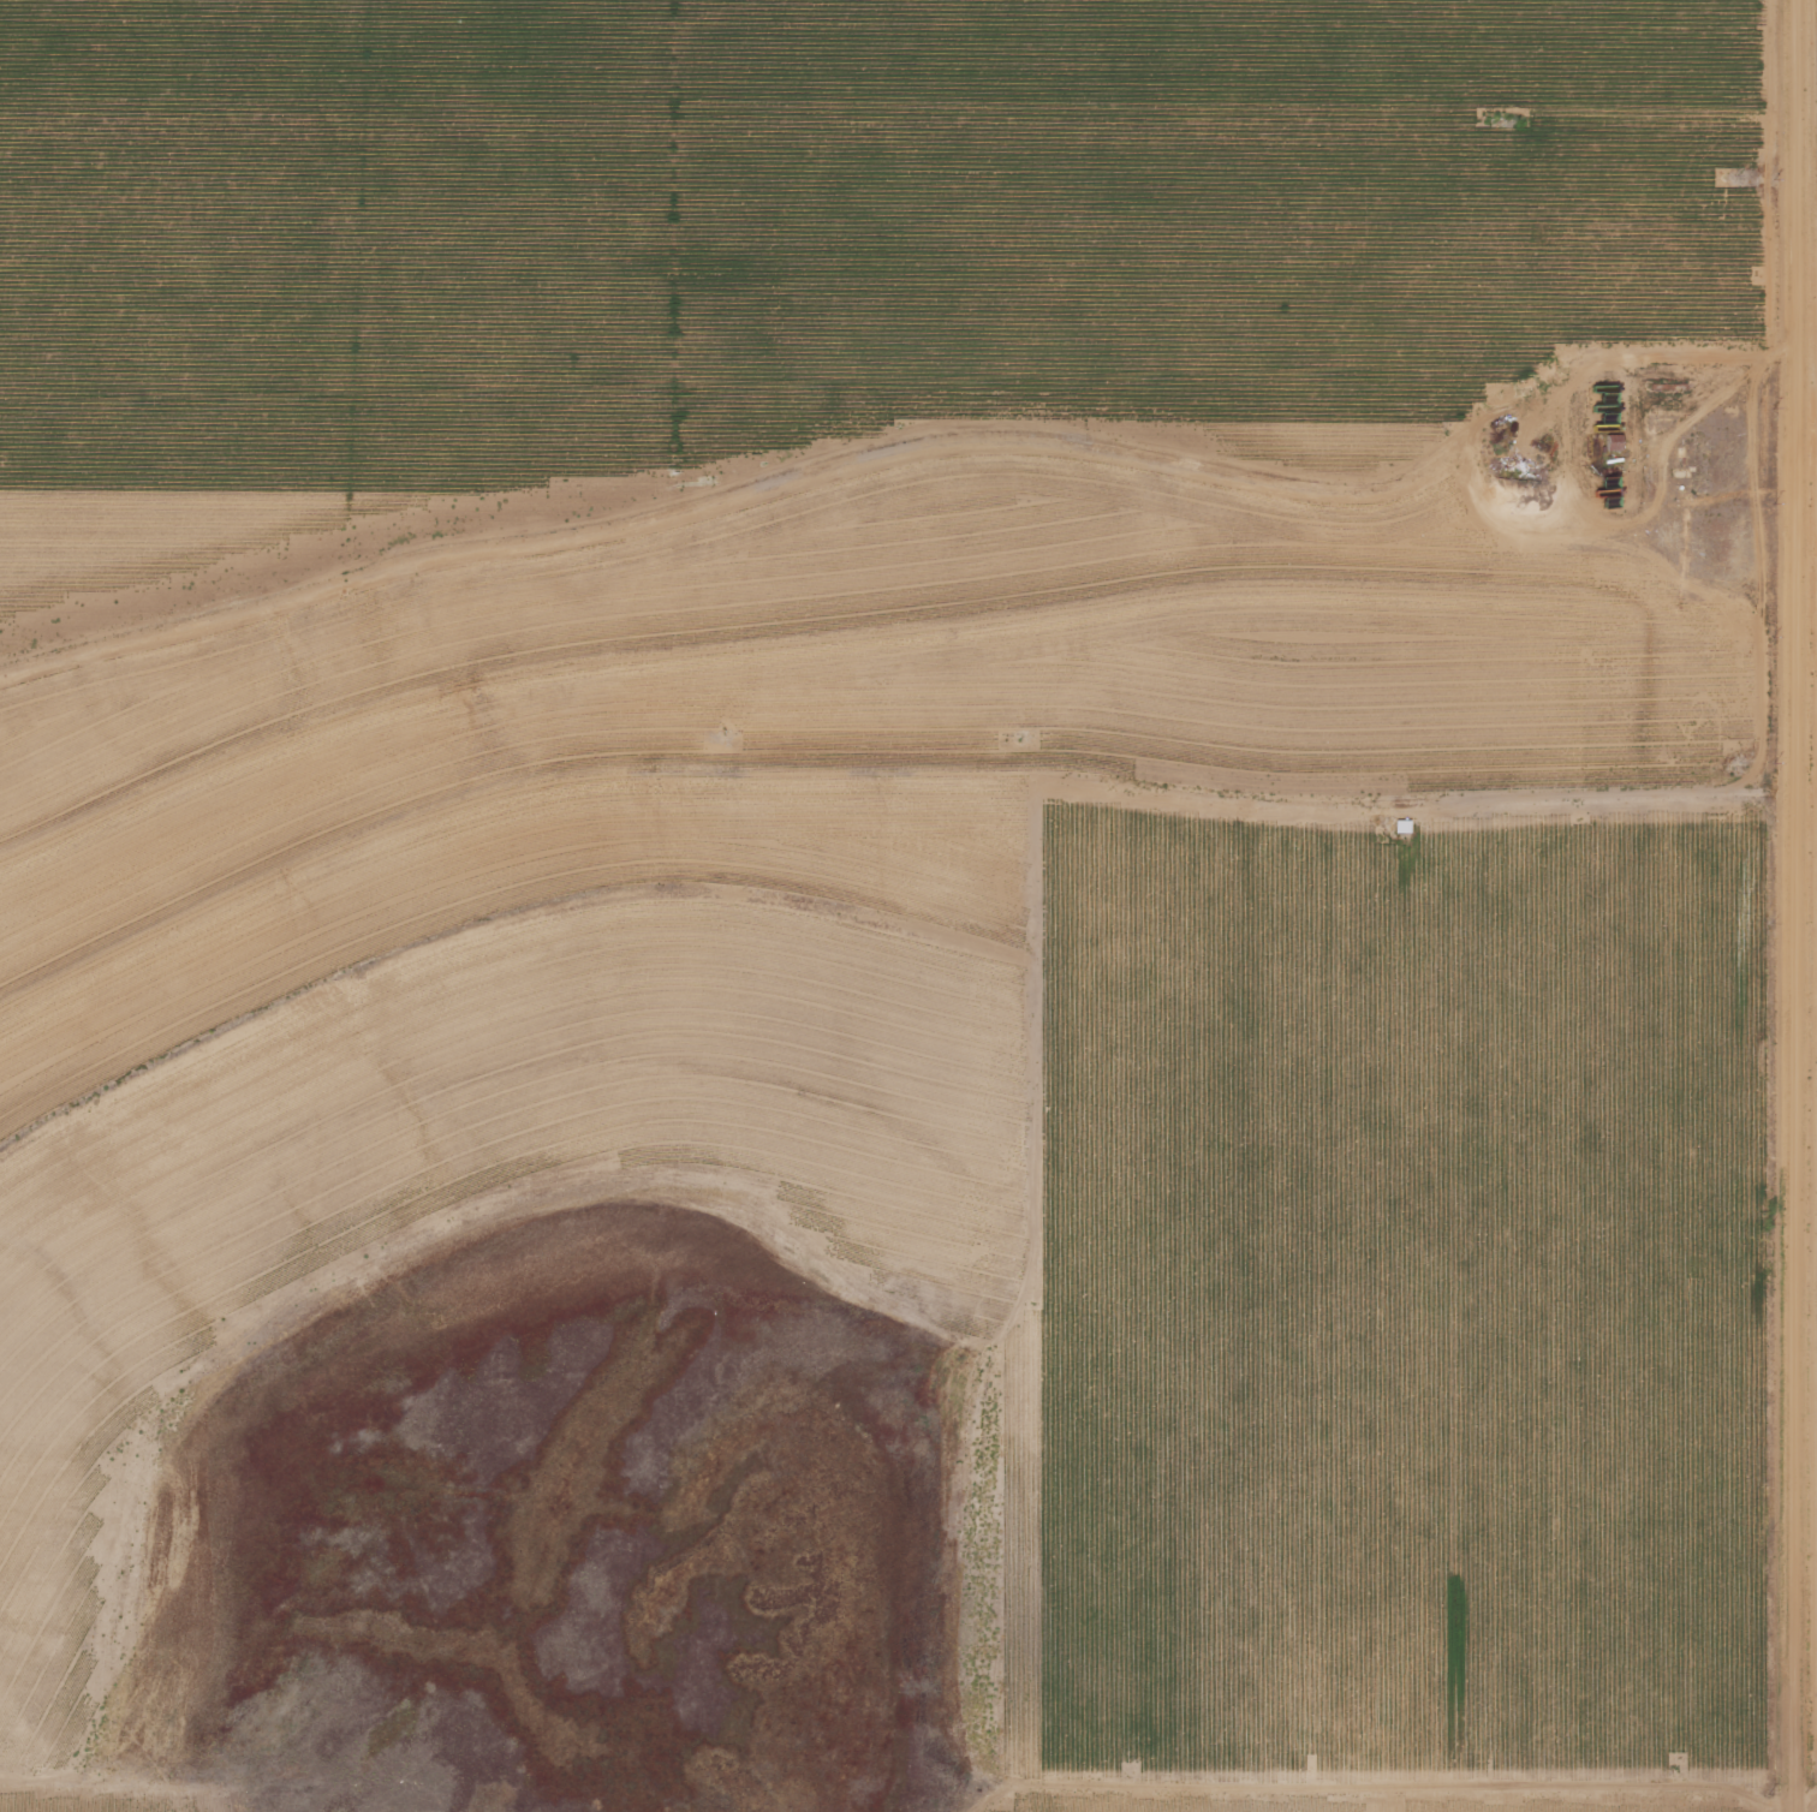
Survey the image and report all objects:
road: (1803, 906)

